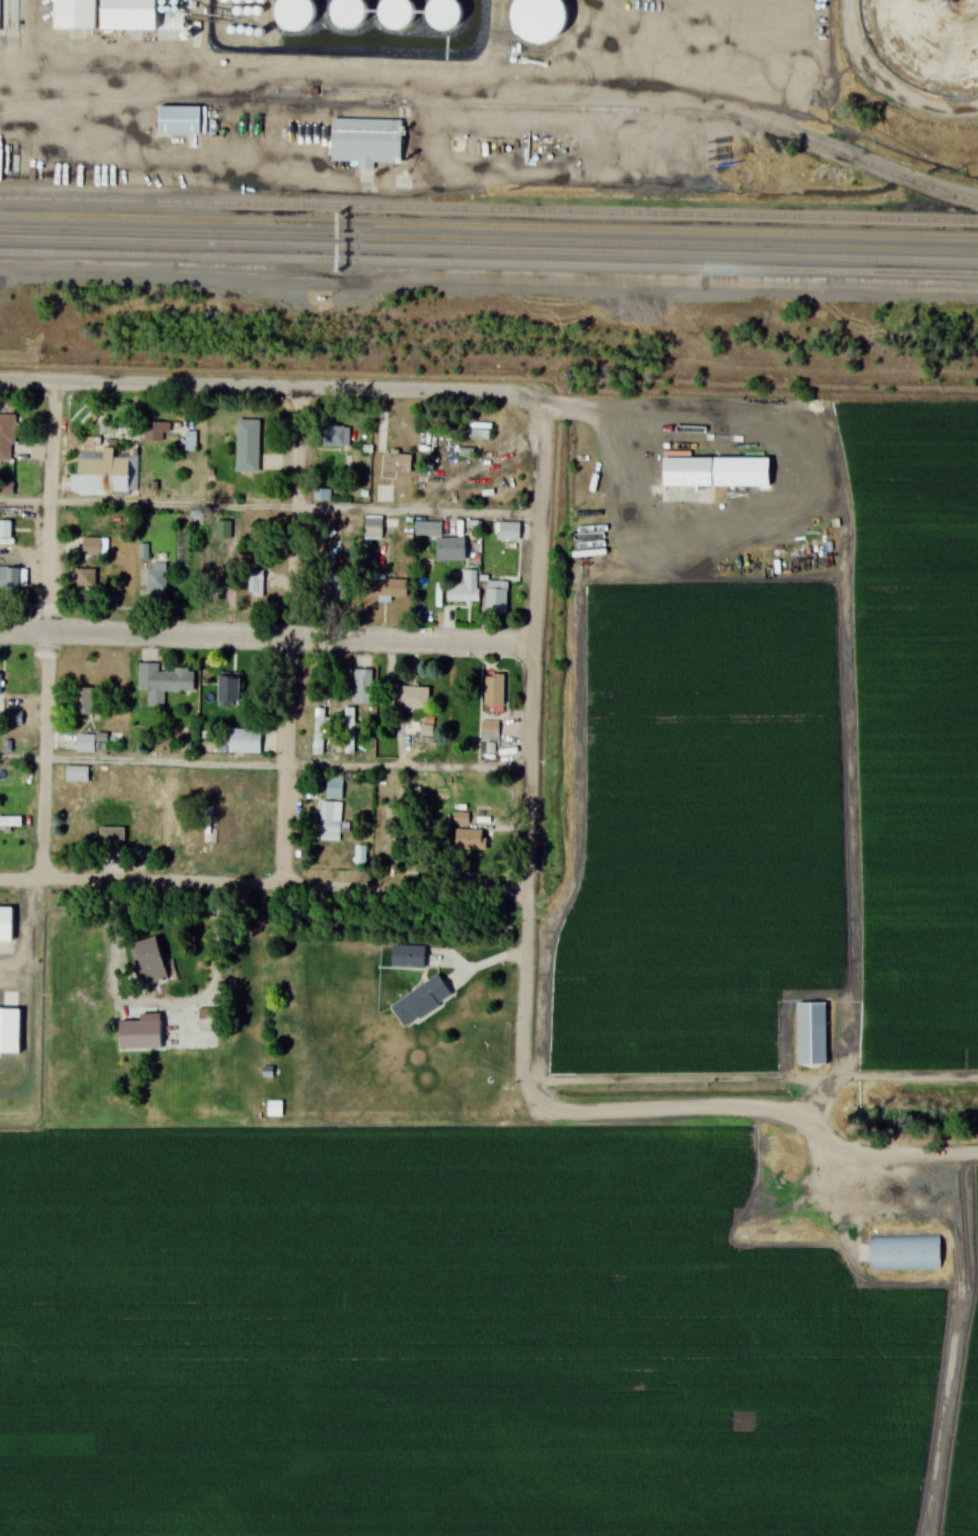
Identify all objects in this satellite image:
building: (295, 13)
building: (72, 14)
building: (127, 14)
building: (348, 14)
building: (397, 14)
building: (445, 14)
building: (9, 15)
building: (543, 21)
silo: (543, 21)
building: (925, 43)
building: (790, 68)
railway: (496, 105)
building: (182, 122)
building: (366, 143)
railway: (489, 209)
railway: (489, 226)
railway: (489, 238)
railway: (489, 249)
railway: (489, 263)
road: (487, 279)
road: (267, 387)
building: (156, 431)
building: (459, 433)
building: (335, 436)
building: (7, 437)
building: (190, 441)
building: (247, 445)
road: (612, 451)
building: (393, 461)
building: (106, 476)
building: (690, 478)
building: (383, 492)
road: (51, 507)
road: (269, 509)
road: (538, 523)
building: (372, 527)
building: (428, 528)
building: (223, 529)
building: (509, 530)
building: (5, 531)
building: (91, 546)
building: (450, 549)
building: (13, 577)
building: (83, 578)
building: (156, 578)
building: (255, 583)
building: (387, 588)
building: (460, 588)
building: (496, 597)
road: (295, 637)
road: (266, 638)
building: (162, 682)
building: (0, 686)
building: (362, 686)
building: (228, 690)
building: (493, 692)
building: (413, 697)
building: (84, 701)
building: (11, 718)
building: (349, 730)
building: (489, 730)
building: (319, 731)
building: (240, 741)
building: (91, 742)
road: (47, 755)
road: (265, 766)
building: (77, 773)
building: (86, 804)
building: (332, 811)
building: (10, 821)
building: (152, 824)
building: (209, 824)
building: (394, 827)
building: (109, 832)
building: (469, 839)
building: (359, 854)
road: (528, 862)
road: (264, 885)
building: (8, 932)
building: (408, 956)
building: (148, 960)
building: (420, 1001)
building: (140, 1033)
building: (811, 1033)
building: (267, 1072)
road: (753, 1078)
building: (13, 1100)
road: (814, 1104)
building: (274, 1108)
road: (750, 1110)
building: (905, 1252)

